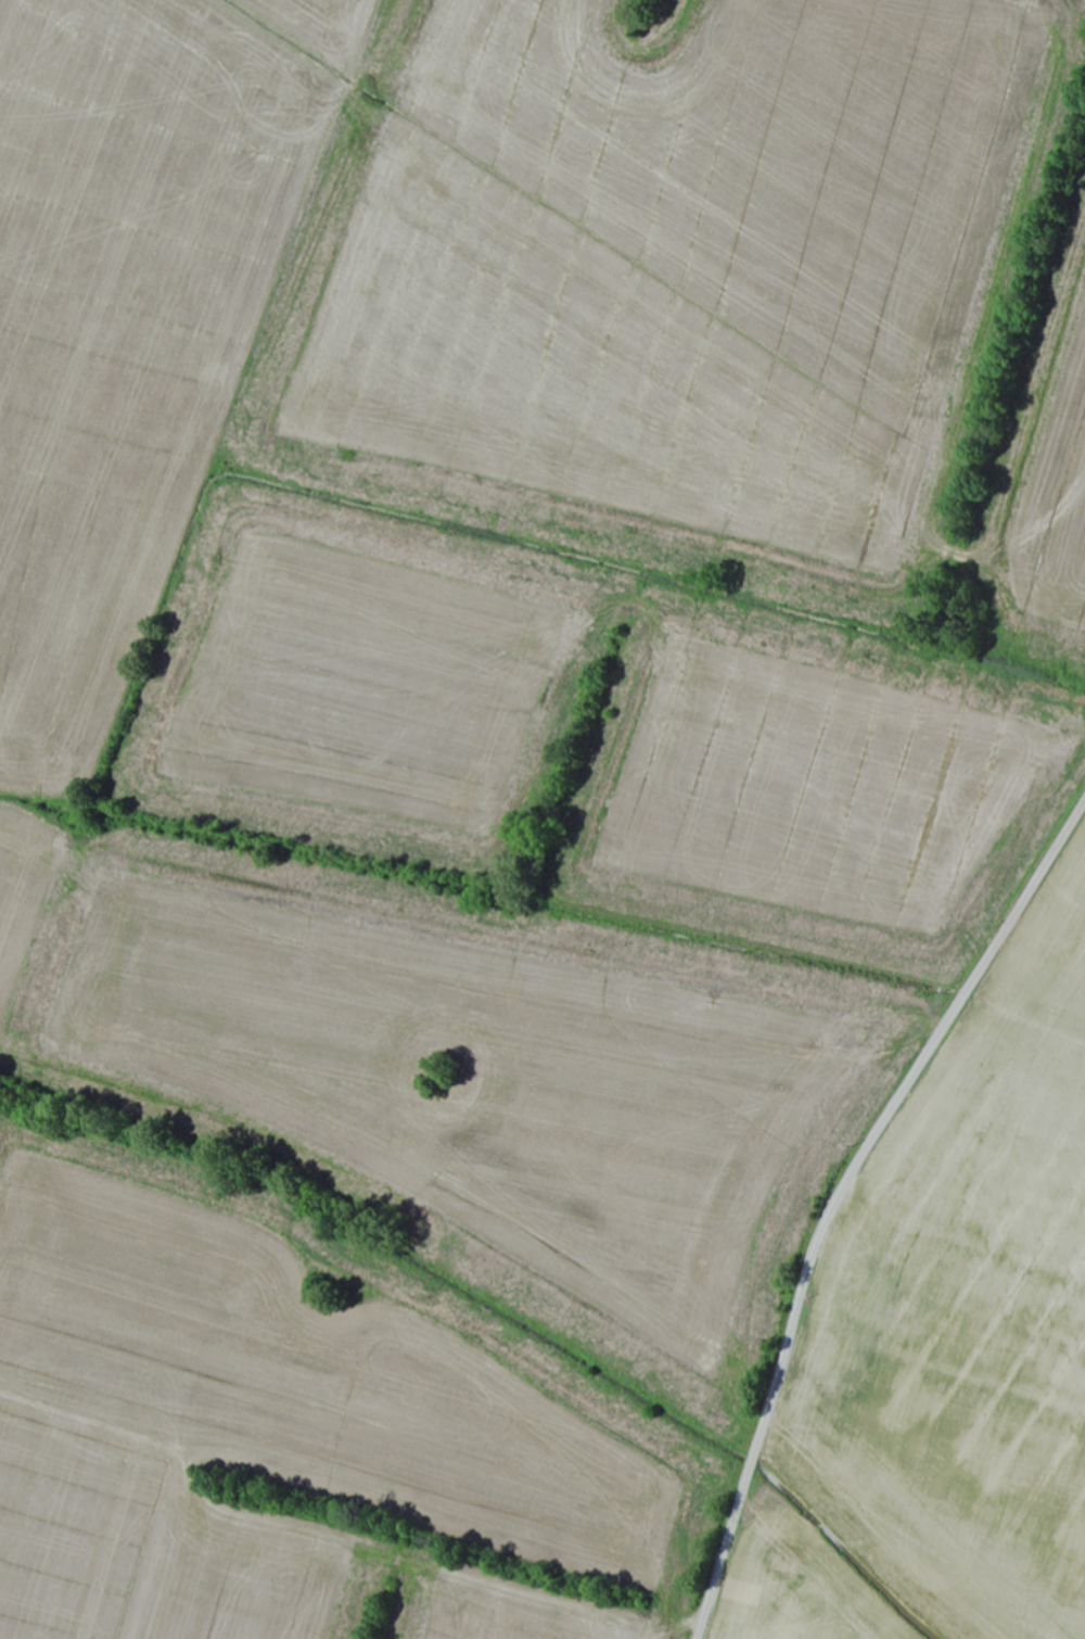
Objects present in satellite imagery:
road: (838, 1196)

